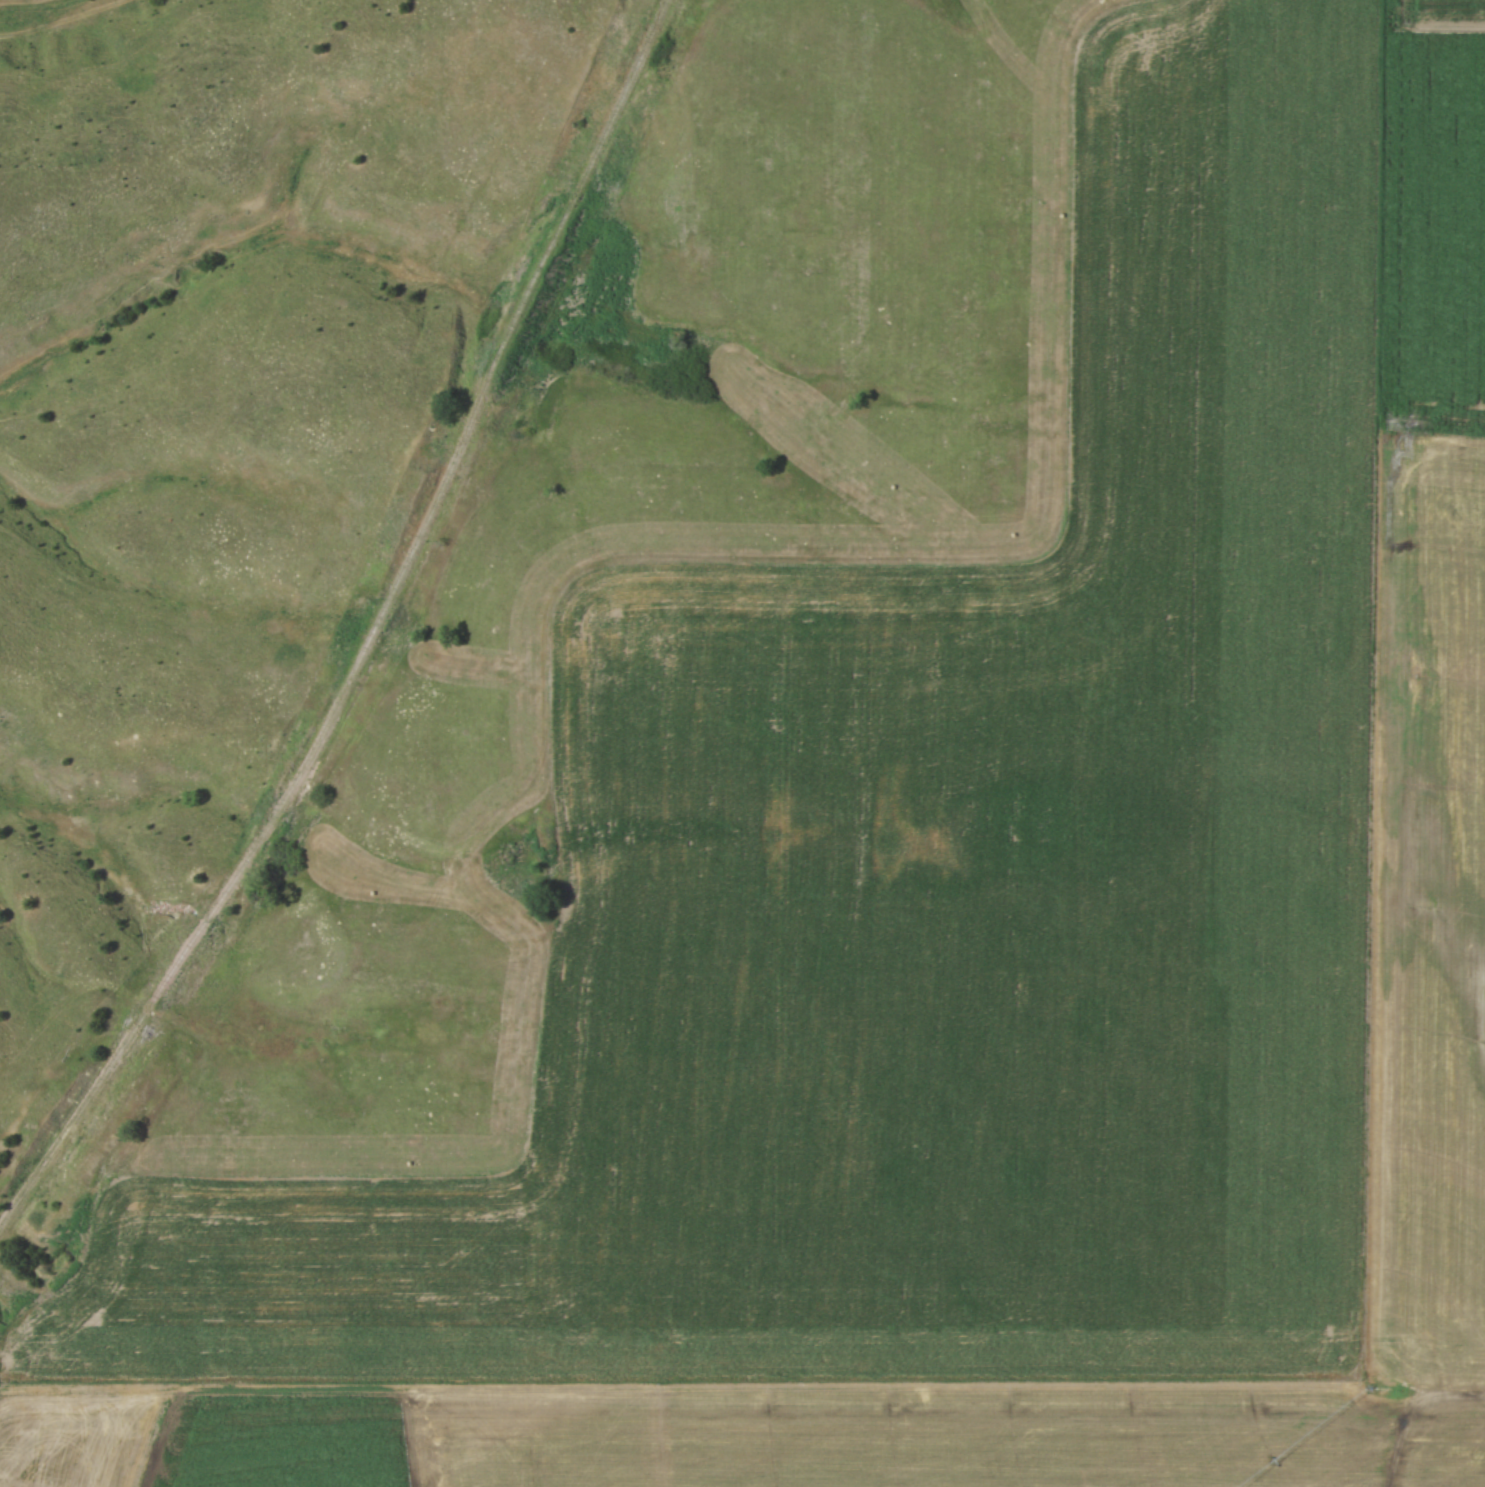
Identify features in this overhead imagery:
railway: (396, 631)
crop: (83, 1434)

